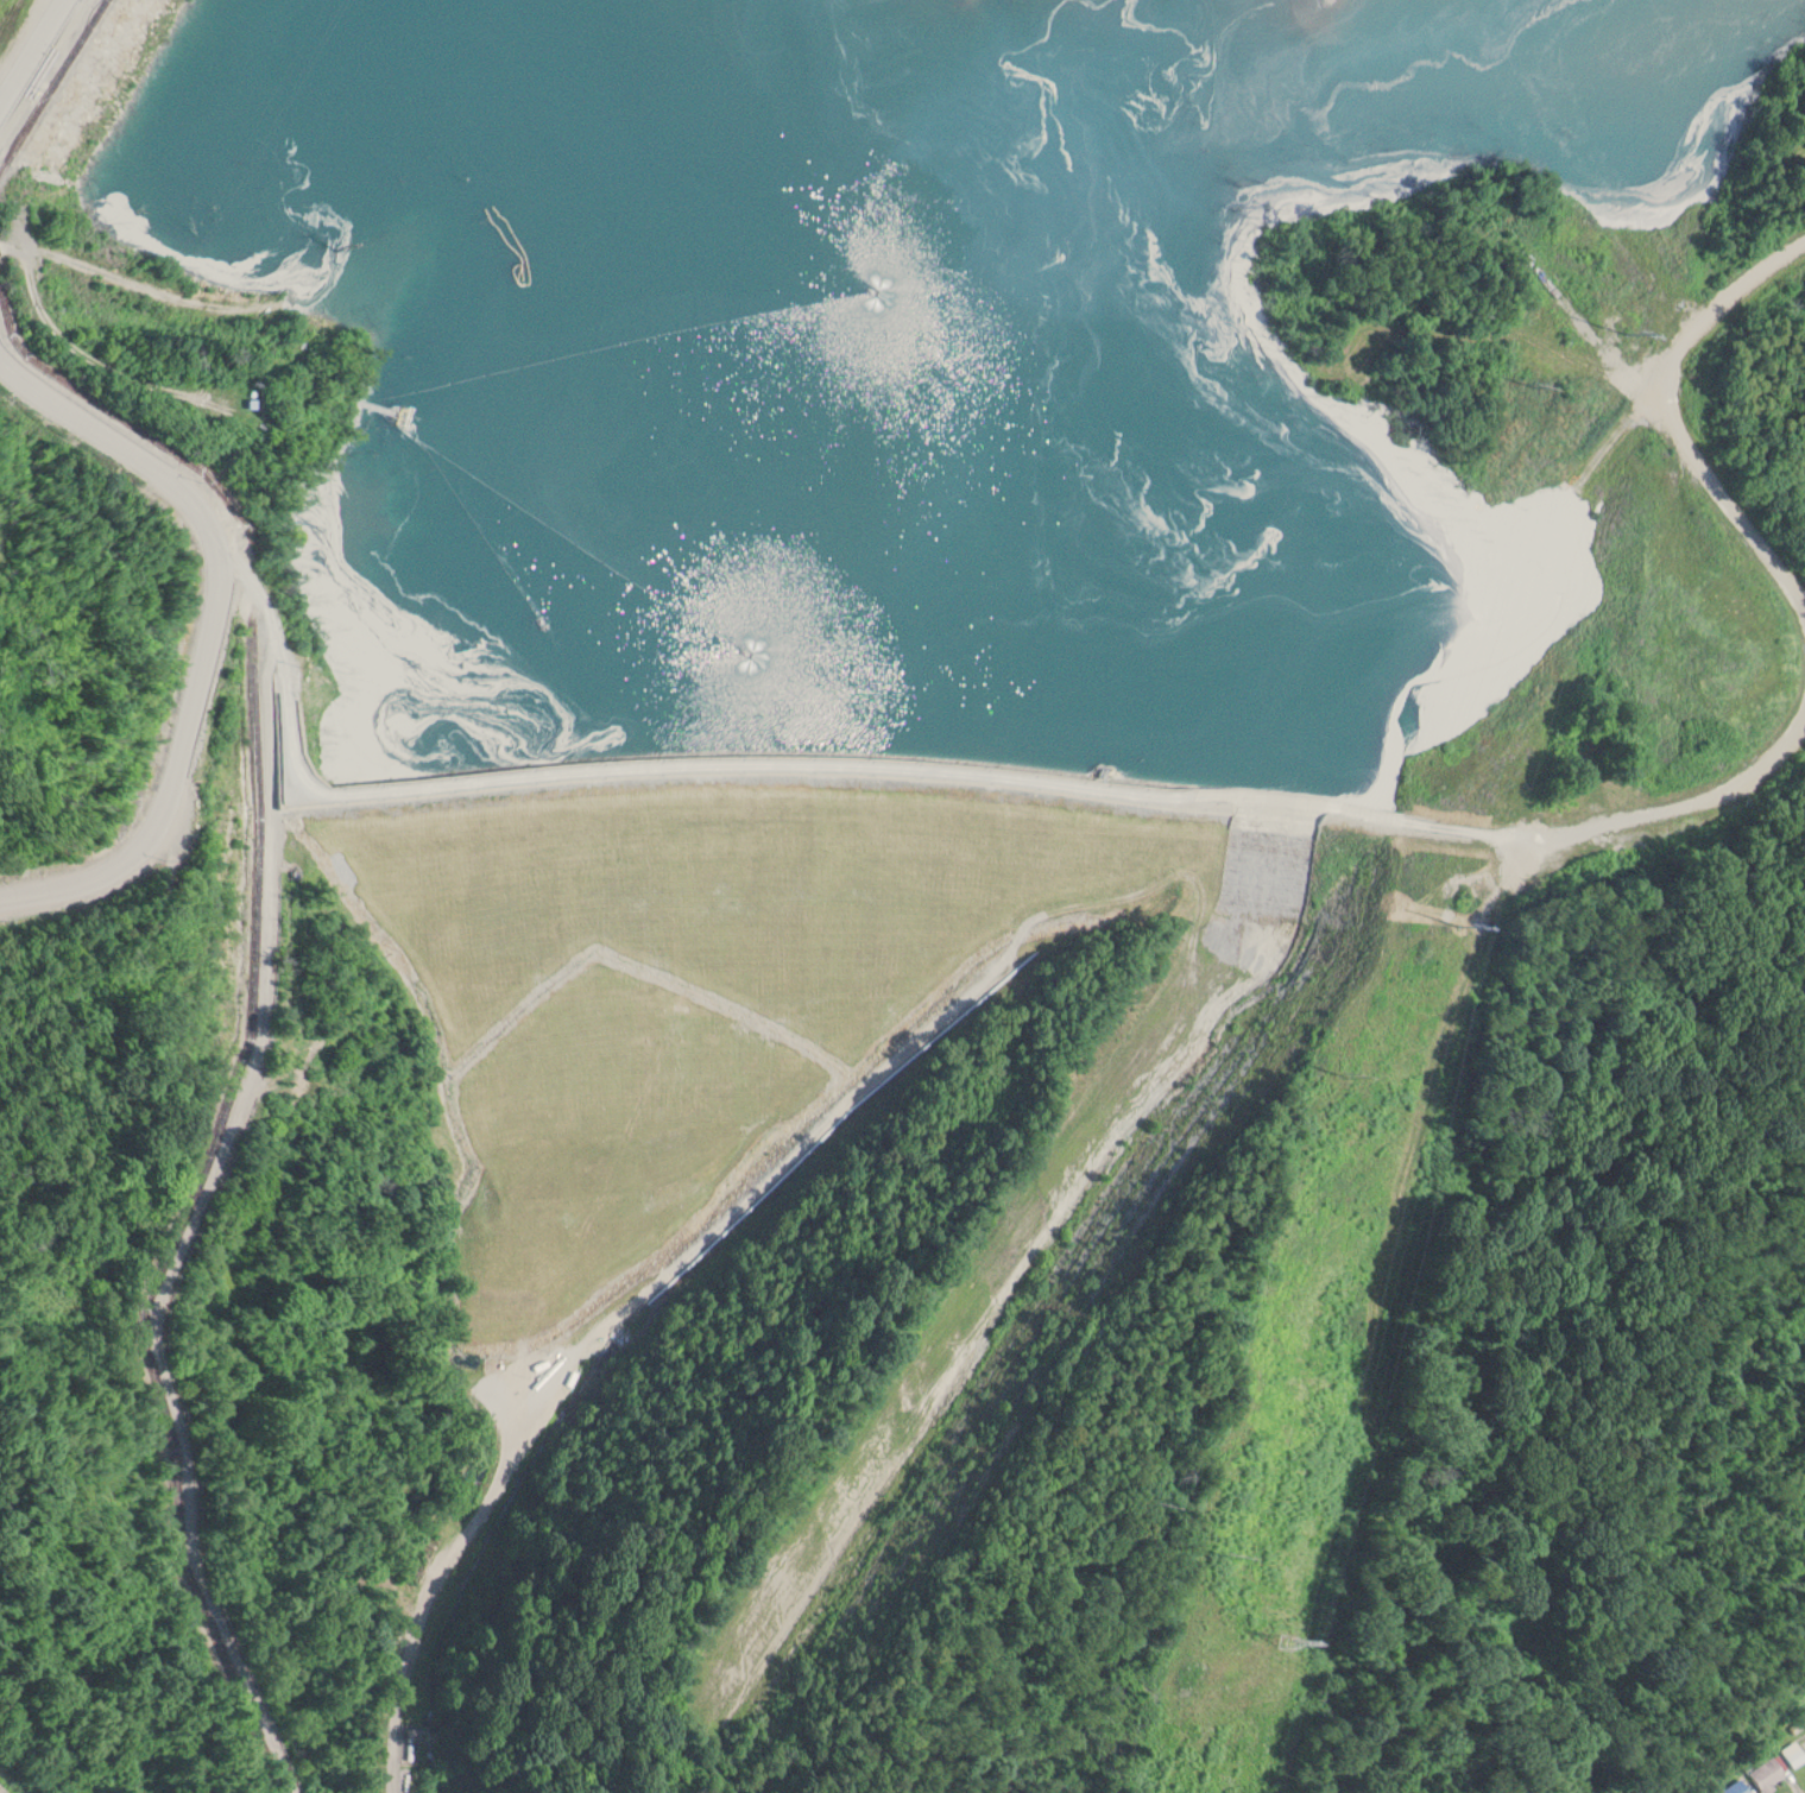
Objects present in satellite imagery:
power tower: (1612, 314)
power tower: (1454, 934)
power tower: (1286, 1641)
building: (1795, 1756)
building: (1765, 1773)
building: (1734, 1787)

